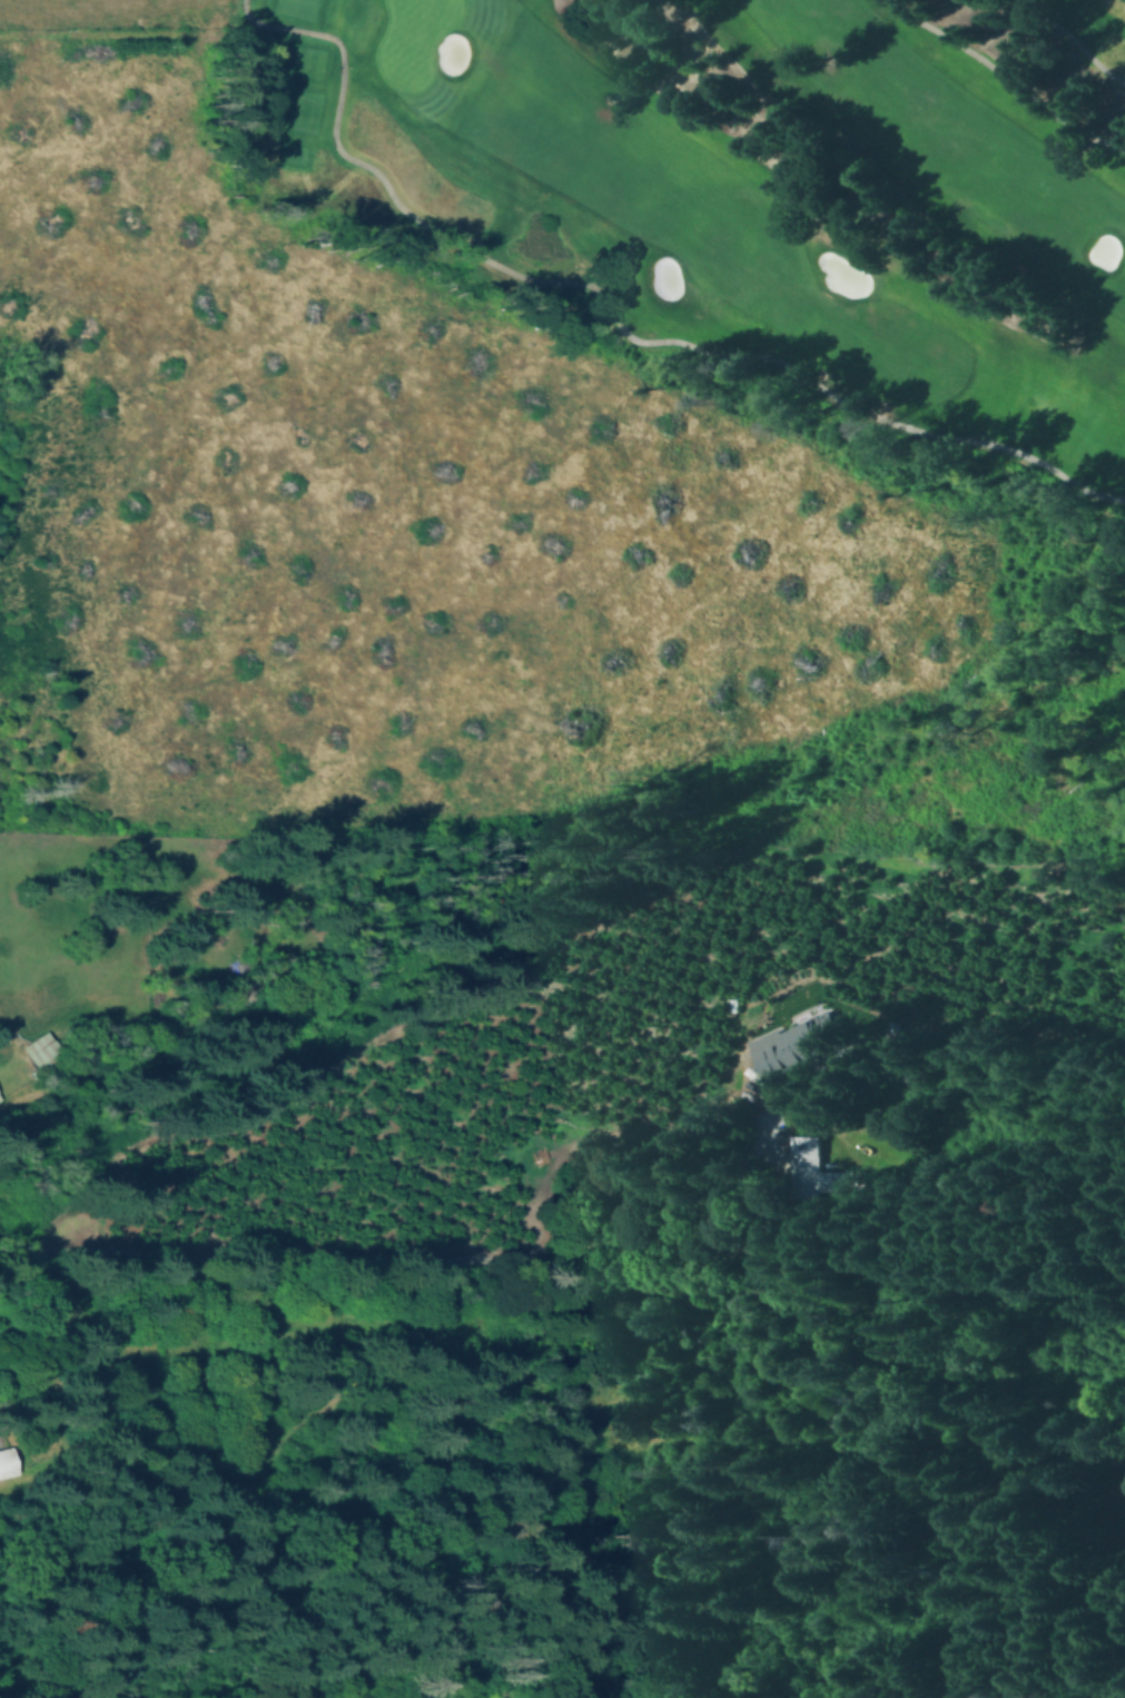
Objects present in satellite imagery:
road: (1075, 42)
road: (1006, 77)
park: (733, 218)
road: (613, 313)
building: (798, 1046)
building: (38, 1047)
building: (825, 1172)
road: (397, 1258)
building: (9, 1464)

